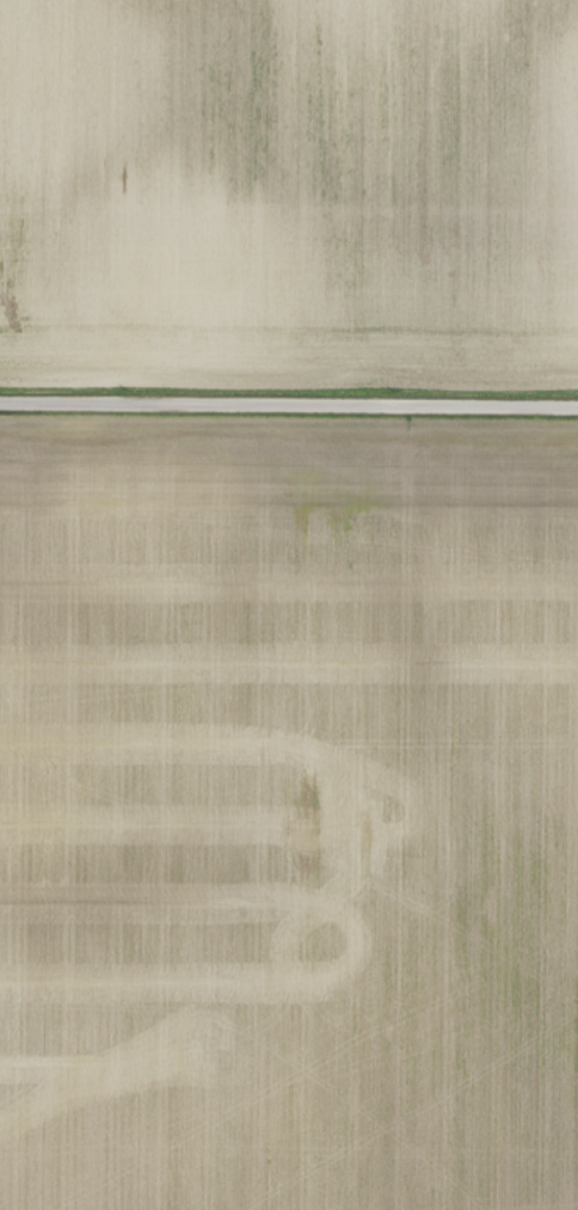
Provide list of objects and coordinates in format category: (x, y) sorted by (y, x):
road: (289, 403)

